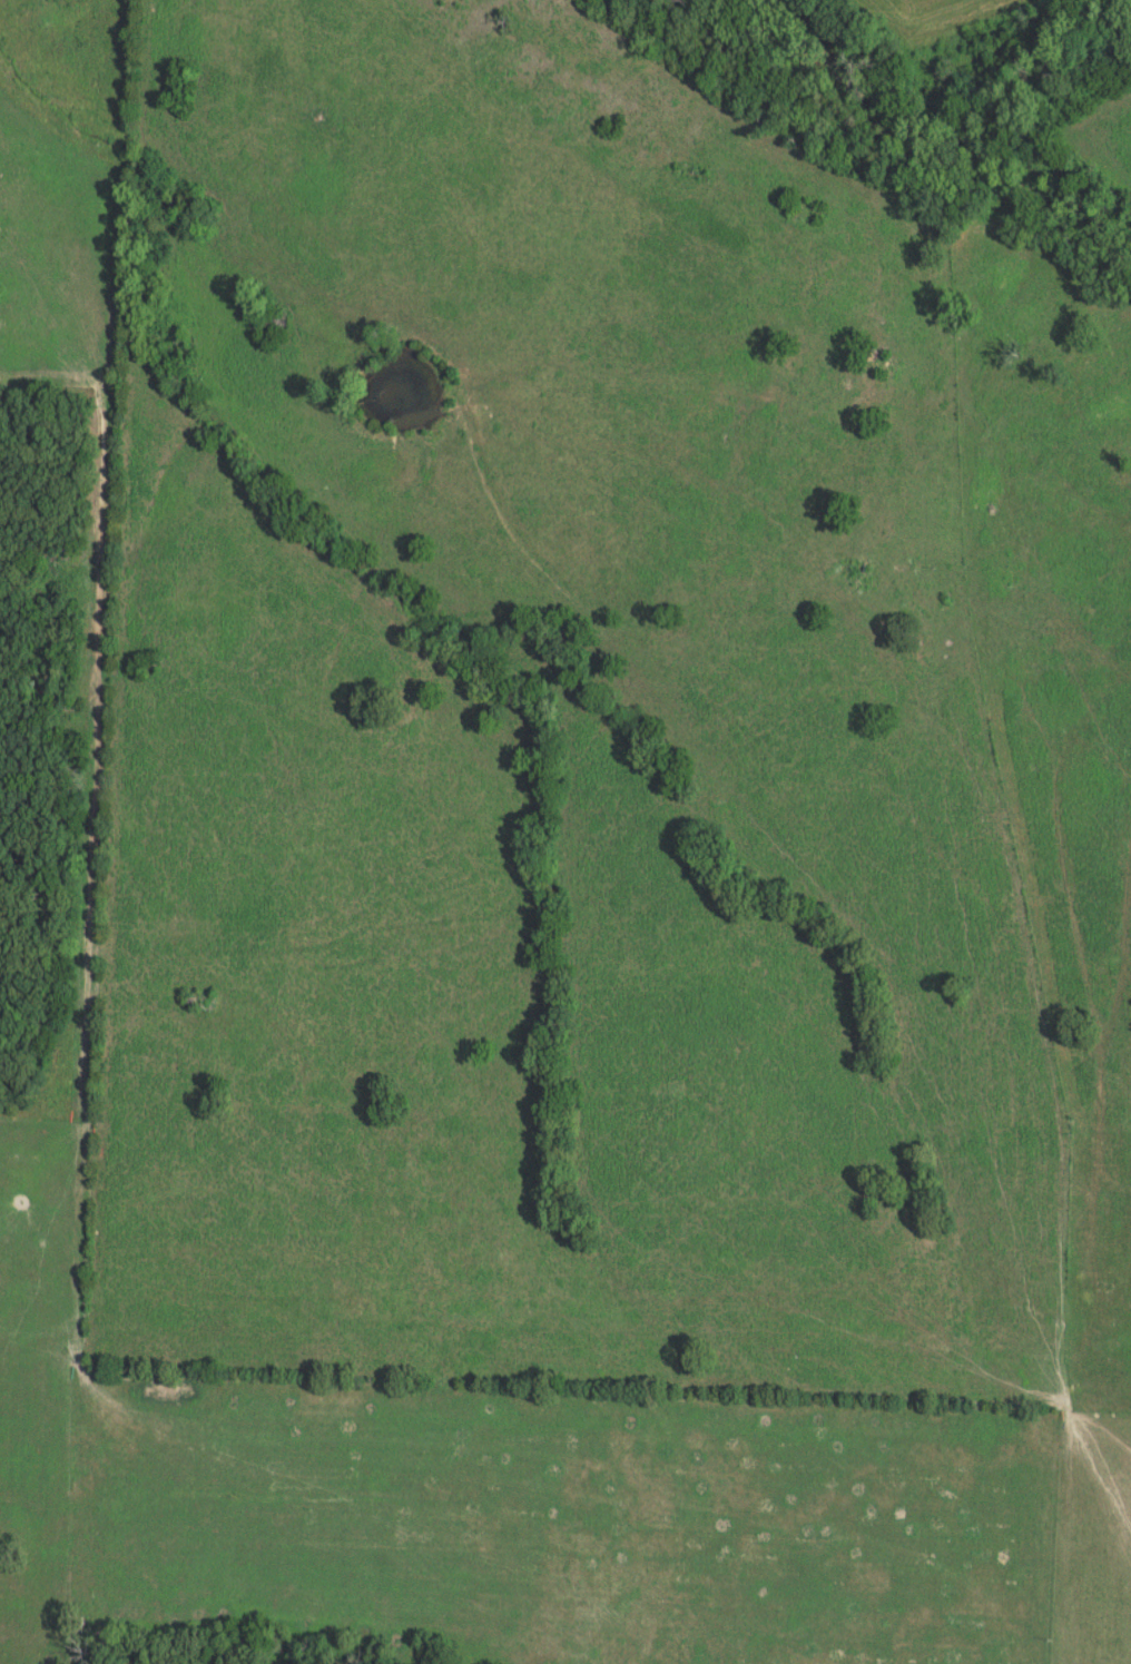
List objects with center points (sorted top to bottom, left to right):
road: (1061, 629)

